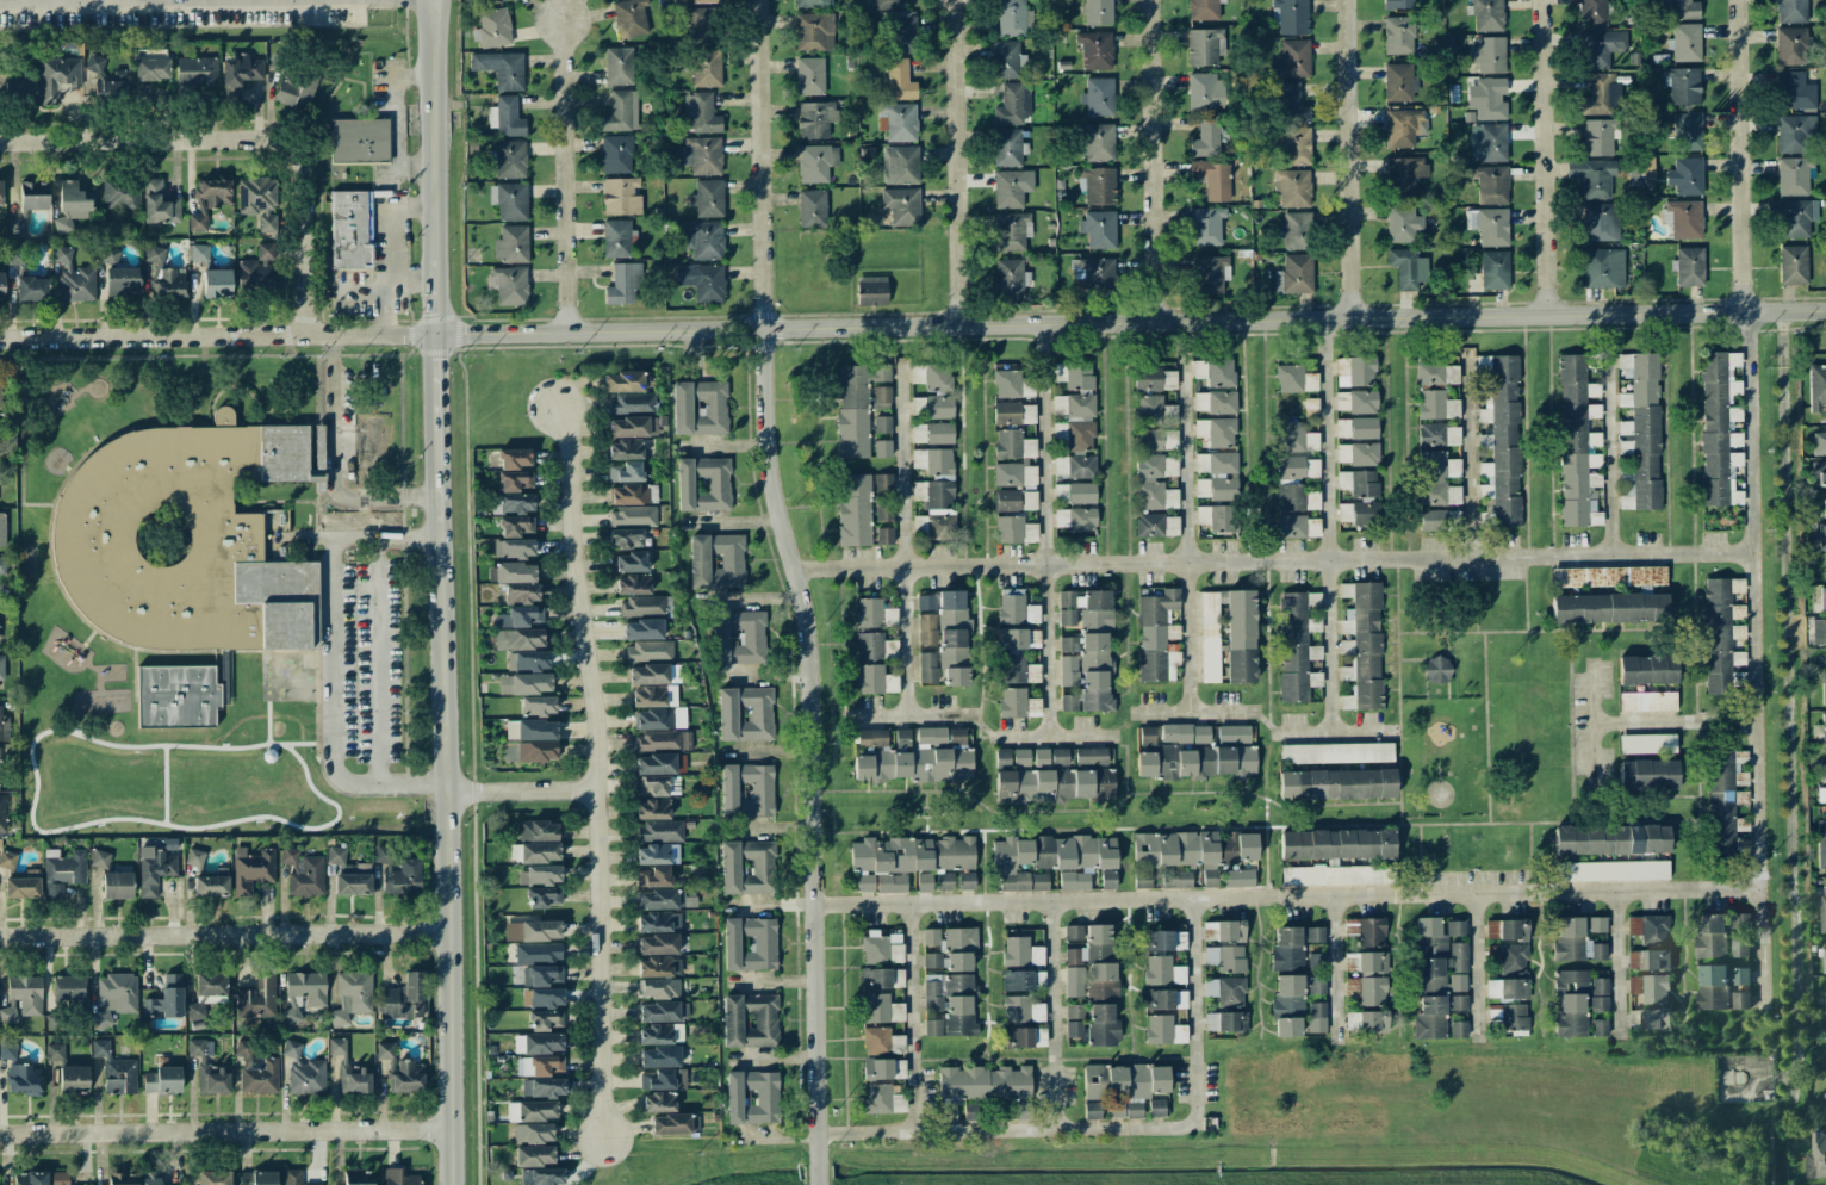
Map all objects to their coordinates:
road: (60, 0)
building: (703, 1)
building: (813, 4)
building: (888, 4)
building: (1397, 4)
building: (1681, 8)
building: (1203, 10)
building: (1791, 11)
building: (1098, 12)
building: (1592, 12)
building: (1291, 15)
building: (1487, 15)
building: (1012, 18)
building: (631, 19)
building: (701, 25)
building: (492, 27)
building: (814, 32)
building: (896, 32)
building: (1398, 35)
building: (1687, 42)
building: (1204, 46)
building: (1790, 46)
building: (1601, 48)
building: (1095, 50)
building: (1489, 54)
building: (1005, 60)
building: (1292, 60)
building: (95, 63)
building: (619, 66)
building: (704, 67)
building: (501, 68)
building: (153, 69)
building: (197, 72)
building: (238, 75)
building: (809, 76)
building: (57, 77)
building: (899, 80)
building: (1398, 82)
building: (116, 85)
building: (1683, 85)
building: (296, 89)
building: (17, 91)
building: (1201, 92)
building: (1794, 92)
building: (1601, 95)
building: (1098, 97)
building: (1486, 99)
building: (1291, 104)
building: (1012, 105)
building: (621, 112)
building: (700, 113)
building: (505, 117)
building: (815, 119)
building: (898, 122)
road: (397, 123)
building: (1403, 128)
building: (1687, 131)
building: (1795, 134)
building: (1206, 137)
building: (1598, 137)
road: (240, 138)
building: (359, 141)
building: (1098, 142)
building: (1487, 143)
building: (1294, 145)
building: (1006, 147)
building: (616, 154)
building: (702, 155)
road: (1743, 156)
road: (1545, 157)
building: (508, 159)
road: (1349, 160)
road: (1154, 161)
building: (816, 163)
road: (958, 163)
building: (900, 165)
building: (1647, 167)
building: (1404, 174)
building: (1794, 175)
building: (1687, 176)
road: (565, 178)
building: (1592, 178)
building: (1212, 179)
building: (1491, 184)
building: (1099, 185)
building: (1292, 187)
building: (1012, 188)
building: (0, 193)
building: (120, 193)
building: (33, 194)
building: (621, 197)
building: (708, 198)
building: (209, 200)
building: (257, 200)
building: (509, 200)
building: (160, 204)
building: (72, 205)
building: (901, 206)
building: (812, 209)
road: (415, 210)
building: (1789, 217)
building: (1683, 218)
building: (1601, 222)
building: (1403, 223)
building: (1206, 225)
building: (1489, 225)
building: (17, 227)
building: (350, 229)
building: (1099, 229)
building: (1294, 230)
building: (1011, 231)
building: (615, 238)
building: (702, 240)
building: (511, 244)
road: (392, 247)
building: (198, 253)
building: (106, 254)
building: (154, 254)
building: (15, 256)
building: (1793, 265)
building: (1408, 267)
building: (1603, 267)
building: (1689, 267)
building: (257, 269)
building: (1493, 271)
building: (1207, 274)
building: (1294, 274)
building: (1094, 275)
building: (74, 278)
building: (1010, 278)
building: (122, 283)
building: (168, 283)
building: (216, 283)
building: (708, 283)
building: (1, 284)
road: (415, 285)
building: (508, 285)
building: (622, 285)
building: (32, 289)
building: (871, 291)
road: (361, 296)
road: (385, 315)
road: (1131, 323)
road: (218, 334)
building: (1355, 371)
building: (1215, 372)
building: (1435, 372)
building: (1155, 379)
building: (1294, 379)
building: (622, 381)
building: (1007, 384)
building: (934, 387)
building: (1816, 387)
building: (1073, 389)
building: (1215, 402)
building: (1355, 402)
building: (631, 403)
building: (857, 405)
building: (1436, 405)
building: (700, 408)
building: (1154, 410)
building: (1014, 412)
building: (882, 424)
building: (633, 427)
building: (1342, 428)
building: (1364, 428)
building: (1719, 428)
building: (1641, 430)
building: (1216, 432)
building: (932, 433)
building: (1074, 435)
building: (1439, 435)
building: (1296, 438)
building: (1501, 439)
building: (1819, 442)
building: (1013, 445)
road: (1042, 446)
road: (722, 447)
building: (882, 448)
building: (625, 449)
road: (1610, 451)
building: (1356, 453)
road: (1468, 453)
building: (513, 459)
building: (1216, 463)
road: (333, 466)
building: (1074, 466)
building: (1297, 467)
building: (626, 472)
building: (1151, 472)
building: (1818, 473)
building: (1007, 474)
building: (1029, 477)
building: (1436, 478)
building: (514, 480)
building: (883, 482)
building: (1358, 483)
building: (703, 484)
building: (936, 491)
building: (1074, 492)
building: (629, 494)
building: (1297, 497)
building: (1016, 500)
building: (513, 503)
building: (1825, 504)
building: (853, 509)
building: (883, 511)
building: (1358, 513)
building: (632, 515)
building: (1215, 517)
building: (1075, 519)
building: (1440, 520)
road: (731, 522)
building: (1151, 525)
building: (515, 526)
building: (1291, 526)
road: (1328, 526)
building: (2, 529)
building: (1014, 529)
road: (1190, 535)
building: (883, 536)
building: (1821, 536)
building: (626, 538)
road: (906, 540)
building: (513, 548)
building: (185, 556)
building: (716, 560)
road: (1271, 562)
building: (631, 563)
building: (2, 565)
building: (514, 572)
building: (1608, 577)
building: (632, 584)
road: (796, 588)
road: (442, 592)
building: (521, 594)
road: (749, 597)
building: (1822, 598)
building: (925, 602)
building: (644, 606)
building: (1014, 608)
building: (1609, 608)
building: (1085, 610)
building: (869, 613)
building: (518, 616)
building: (642, 629)
building: (926, 629)
building: (1819, 632)
building: (1154, 633)
building: (738, 637)
building: (1209, 637)
building: (1240, 637)
building: (1718, 637)
building: (952, 638)
building: (1011, 638)
building: (1068, 644)
building: (1361, 645)
building: (869, 646)
building: (1293, 647)
building: (522, 649)
building: (648, 651)
road: (1050, 652)
building: (1313, 652)
road: (330, 660)
road: (379, 662)
road: (1752, 662)
building: (1011, 666)
building: (926, 668)
building: (1436, 669)
building: (1646, 670)
building: (1068, 671)
building: (1095, 671)
building: (1, 672)
building: (1032, 672)
building: (654, 674)
road: (762, 676)
building: (874, 680)
building: (524, 683)
building: (1824, 694)
building: (653, 696)
building: (1647, 701)
building: (1012, 702)
building: (1069, 702)
building: (536, 706)
building: (1032, 707)
road: (1788, 708)
building: (745, 713)
road: (1192, 713)
road: (912, 718)
road: (1591, 718)
building: (659, 719)
road: (1672, 722)
building: (1824, 726)
building: (4, 727)
building: (530, 730)
road: (1334, 732)
building: (1185, 733)
building: (931, 734)
building: (1234, 734)
building: (956, 736)
building: (1147, 736)
building: (902, 737)
building: (871, 738)
road: (1051, 738)
building: (663, 740)
building: (1646, 744)
road: (768, 750)
building: (536, 751)
building: (1335, 752)
building: (1002, 756)
building: (1041, 756)
building: (1091, 756)
building: (1020, 757)
building: (1058, 757)
building: (1194, 762)
building: (656, 764)
building: (915, 765)
road: (595, 770)
building: (1647, 774)
building: (651, 784)
building: (1336, 784)
building: (1825, 784)
building: (1054, 786)
road: (521, 789)
building: (746, 790)
building: (1720, 805)
building: (652, 809)
building: (2, 814)
road: (769, 827)
building: (538, 831)
building: (659, 831)
building: (1653, 839)
building: (1590, 840)
building: (1821, 843)
building: (1336, 844)
building: (539, 852)
building: (1190, 852)
building: (657, 854)
building: (912, 854)
building: (1087, 856)
building: (194, 857)
building: (100, 858)
building: (7, 860)
building: (1021, 862)
building: (747, 867)
building: (251, 869)
building: (62, 870)
building: (154, 870)
building: (1611, 870)
building: (303, 873)
building: (398, 873)
building: (349, 874)
building: (539, 875)
building: (1337, 875)
building: (654, 876)
building: (1238, 877)
building: (1176, 879)
building: (944, 881)
building: (965, 881)
building: (1074, 881)
building: (865, 882)
building: (924, 882)
building: (212, 883)
building: (890, 883)
building: (117, 885)
building: (21, 888)
building: (544, 896)
building: (665, 899)
road: (1244, 900)
building: (1822, 908)
building: (1739, 920)
building: (658, 922)
building: (1596, 924)
building: (1505, 929)
building: (1648, 929)
building: (532, 930)
building: (1209, 931)
building: (1230, 931)
building: (1366, 931)
building: (1073, 932)
building: (1313, 935)
building: (1710, 935)
road: (224, 939)
building: (1164, 941)
building: (1575, 942)
building: (750, 943)
building: (657, 944)
building: (877, 945)
building: (1286, 948)
building: (1739, 948)
building: (950, 949)
building: (1020, 951)
building: (538, 953)
building: (895, 953)
building: (1439, 954)
building: (1508, 957)
building: (1225, 958)
building: (1633, 960)
building: (1654, 960)
building: (1824, 960)
building: (1097, 961)
building: (1316, 961)
building: (1371, 962)
road: (1617, 963)
building: (659, 967)
road: (1478, 967)
road: (1337, 968)
building: (1162, 970)
building: (881, 978)
building: (1023, 980)
road: (772, 981)
building: (1074, 981)
building: (210, 984)
building: (1316, 984)
building: (542, 986)
building: (1722, 987)
building: (659, 988)
building: (1507, 988)
building: (1650, 988)
building: (72, 989)
building: (1372, 991)
building: (933, 992)
building: (303, 994)
building: (1598, 994)
building: (350, 997)
building: (23, 998)
building: (116, 998)
building: (166, 998)
building: (404, 998)
building: (1164, 999)
building: (257, 1000)
building: (1457, 1003)
building: (1571, 1003)
building: (959, 1004)
building: (1225, 1005)
building: (1287, 1005)
building: (876, 1007)
building: (1021, 1010)
building: (195, 1011)
building: (658, 1012)
building: (1493, 1012)
road: (1055, 1016)
road: (919, 1017)
building: (1316, 1017)
building: (1430, 1018)
building: (1514, 1018)
building: (1654, 1018)
building: (750, 1019)
building: (545, 1020)
building: (1074, 1020)
building: (1366, 1020)
building: (1101, 1025)
building: (932, 1028)
building: (1598, 1028)
building: (1458, 1029)
building: (660, 1034)
building: (1018, 1037)
building: (876, 1040)
building: (517, 1043)
building: (542, 1043)
building: (336, 1046)
building: (7, 1051)
building: (55, 1051)
building: (659, 1057)
road: (776, 1057)
building: (539, 1066)
building: (882, 1068)
building: (114, 1069)
building: (255, 1069)
building: (209, 1071)
building: (400, 1071)
building: (303, 1072)
building: (24, 1079)
building: (73, 1079)
building: (356, 1079)
building: (663, 1079)
road: (1783, 1079)
building: (161, 1080)
building: (980, 1086)
building: (1124, 1086)
building: (542, 1087)
building: (752, 1097)
building: (882, 1099)
building: (658, 1103)
building: (1156, 1108)
building: (536, 1110)
building: (1010, 1110)
building: (1092, 1110)
building: (971, 1111)
building: (672, 1124)
road: (1118, 1127)
road: (224, 1133)
building: (533, 1133)
road: (777, 1135)
building: (534, 1155)
building: (1815, 1156)
building: (358, 1177)
building: (541, 1177)
building: (30, 1178)
building: (58, 1178)
building: (150, 1178)
building: (213, 1178)
building: (256, 1178)
building: (293, 1178)
building: (398, 1178)
building: (123, 1179)
road: (820, 1181)

